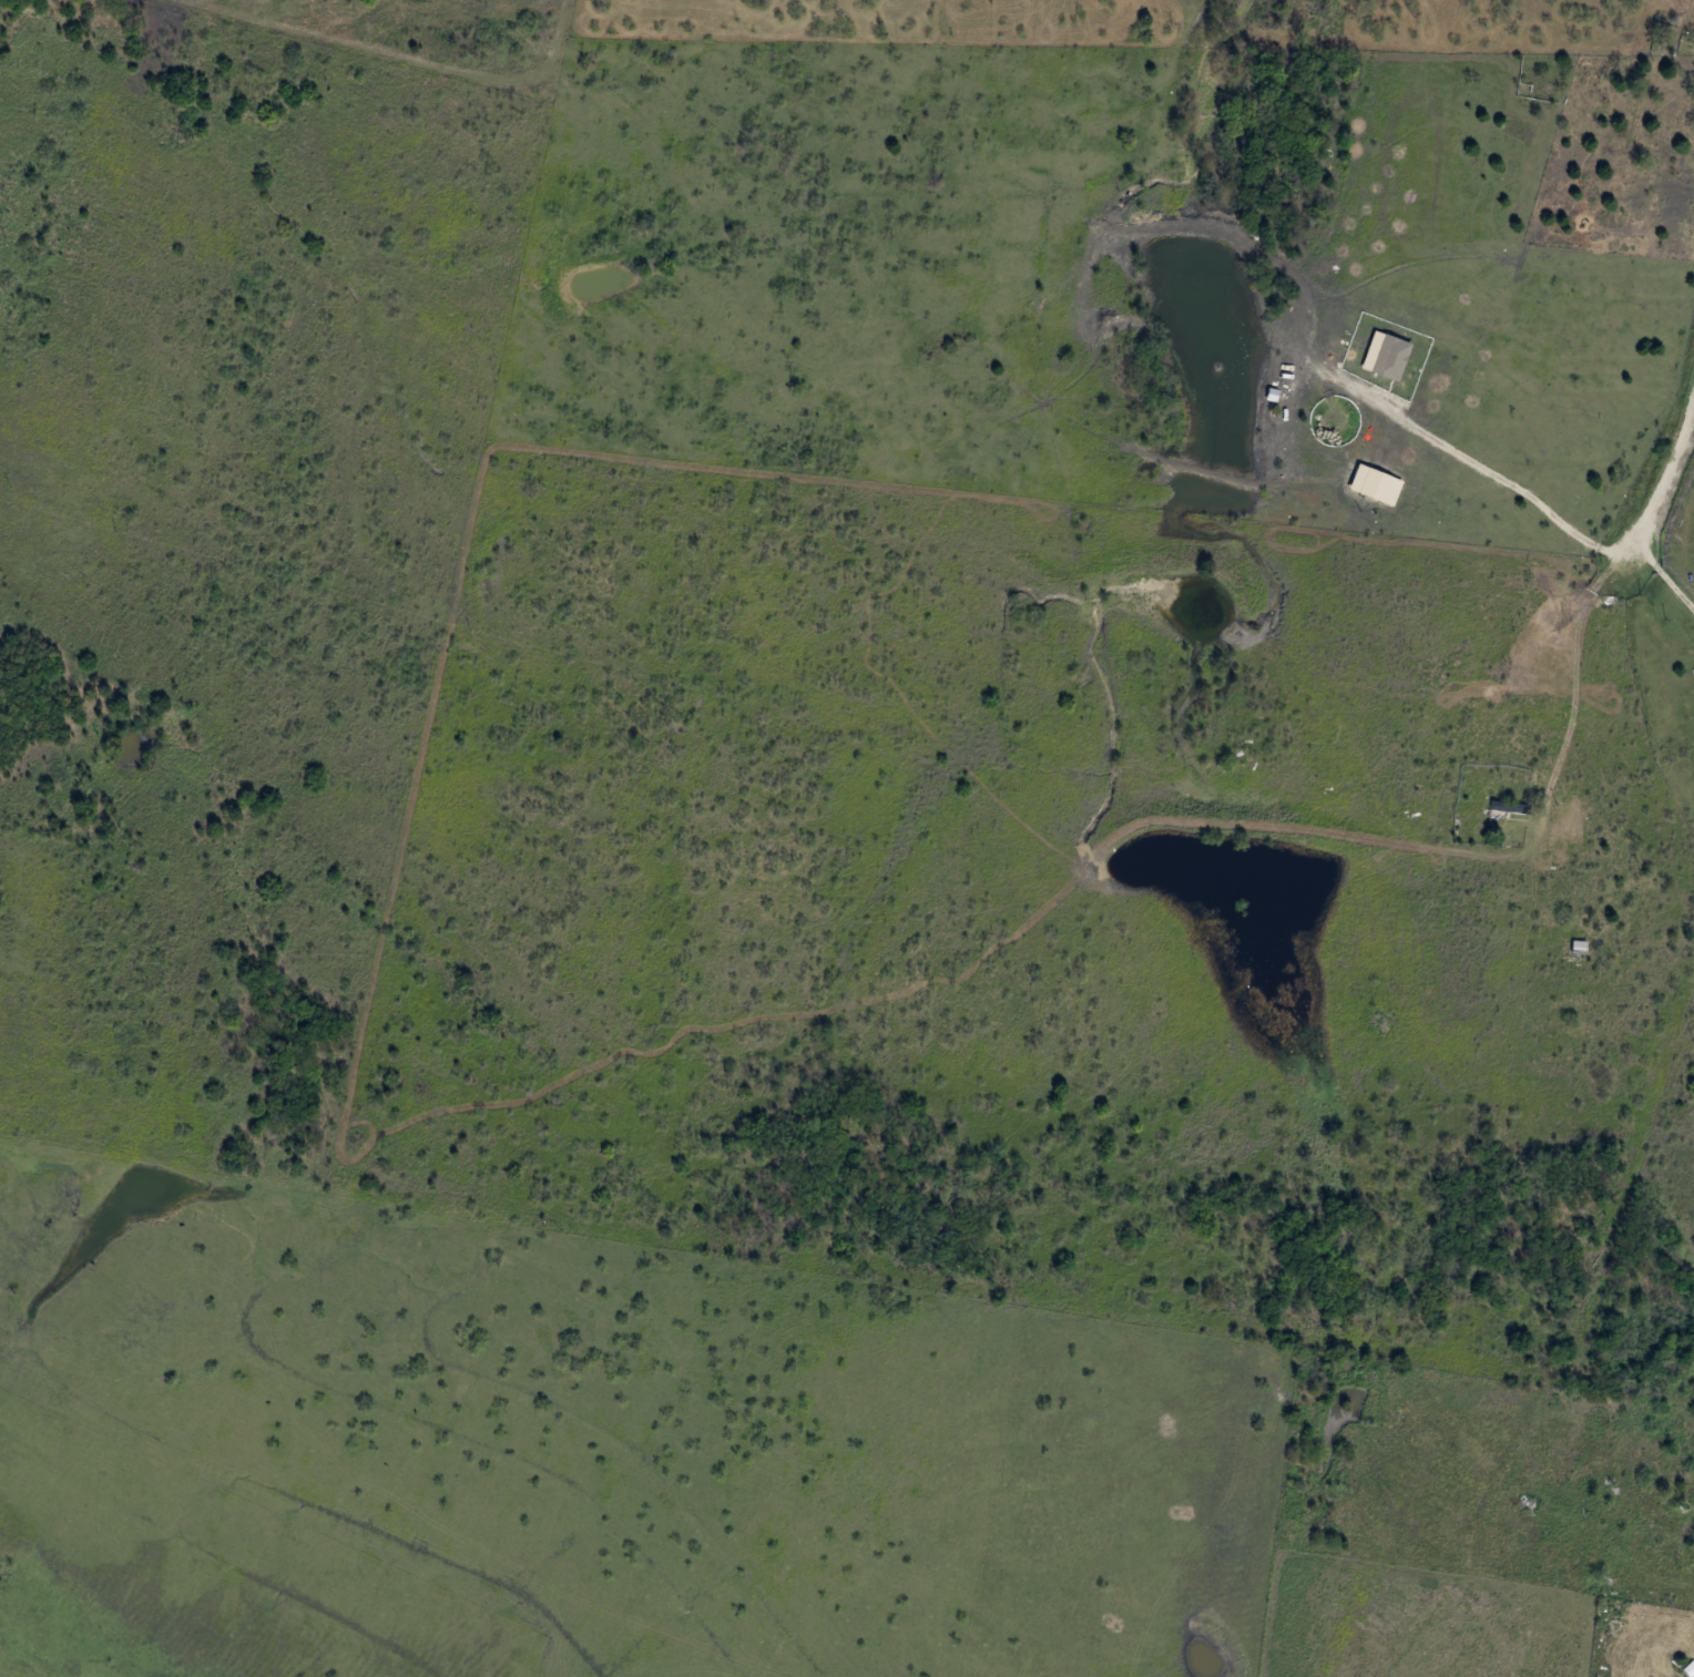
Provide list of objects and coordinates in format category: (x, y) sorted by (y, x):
road: (1690, 391)
road: (1480, 471)
road: (1659, 476)
road: (1660, 575)
road: (1692, 614)
road: (1569, 684)
building: (1508, 808)
building: (1612, 1546)
road: (1664, 1613)

